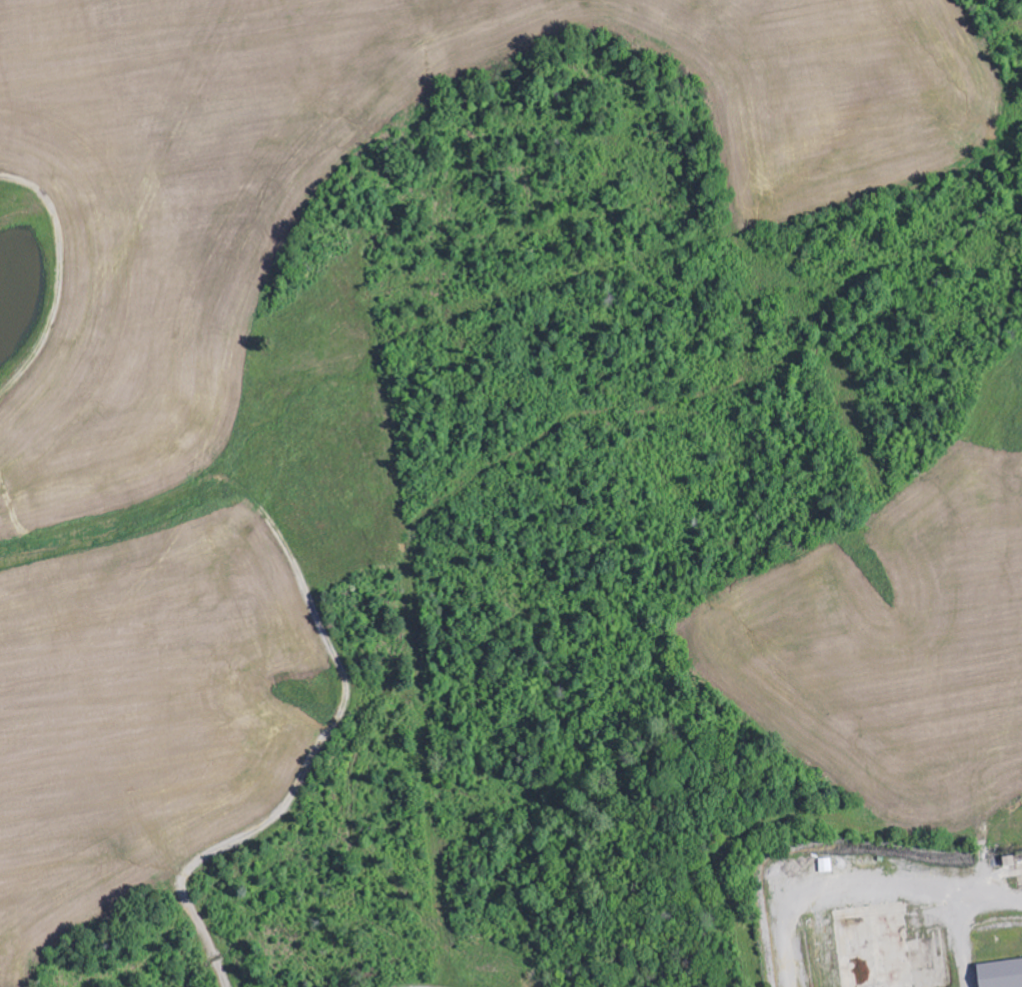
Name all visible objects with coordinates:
building: (1000, 972)

